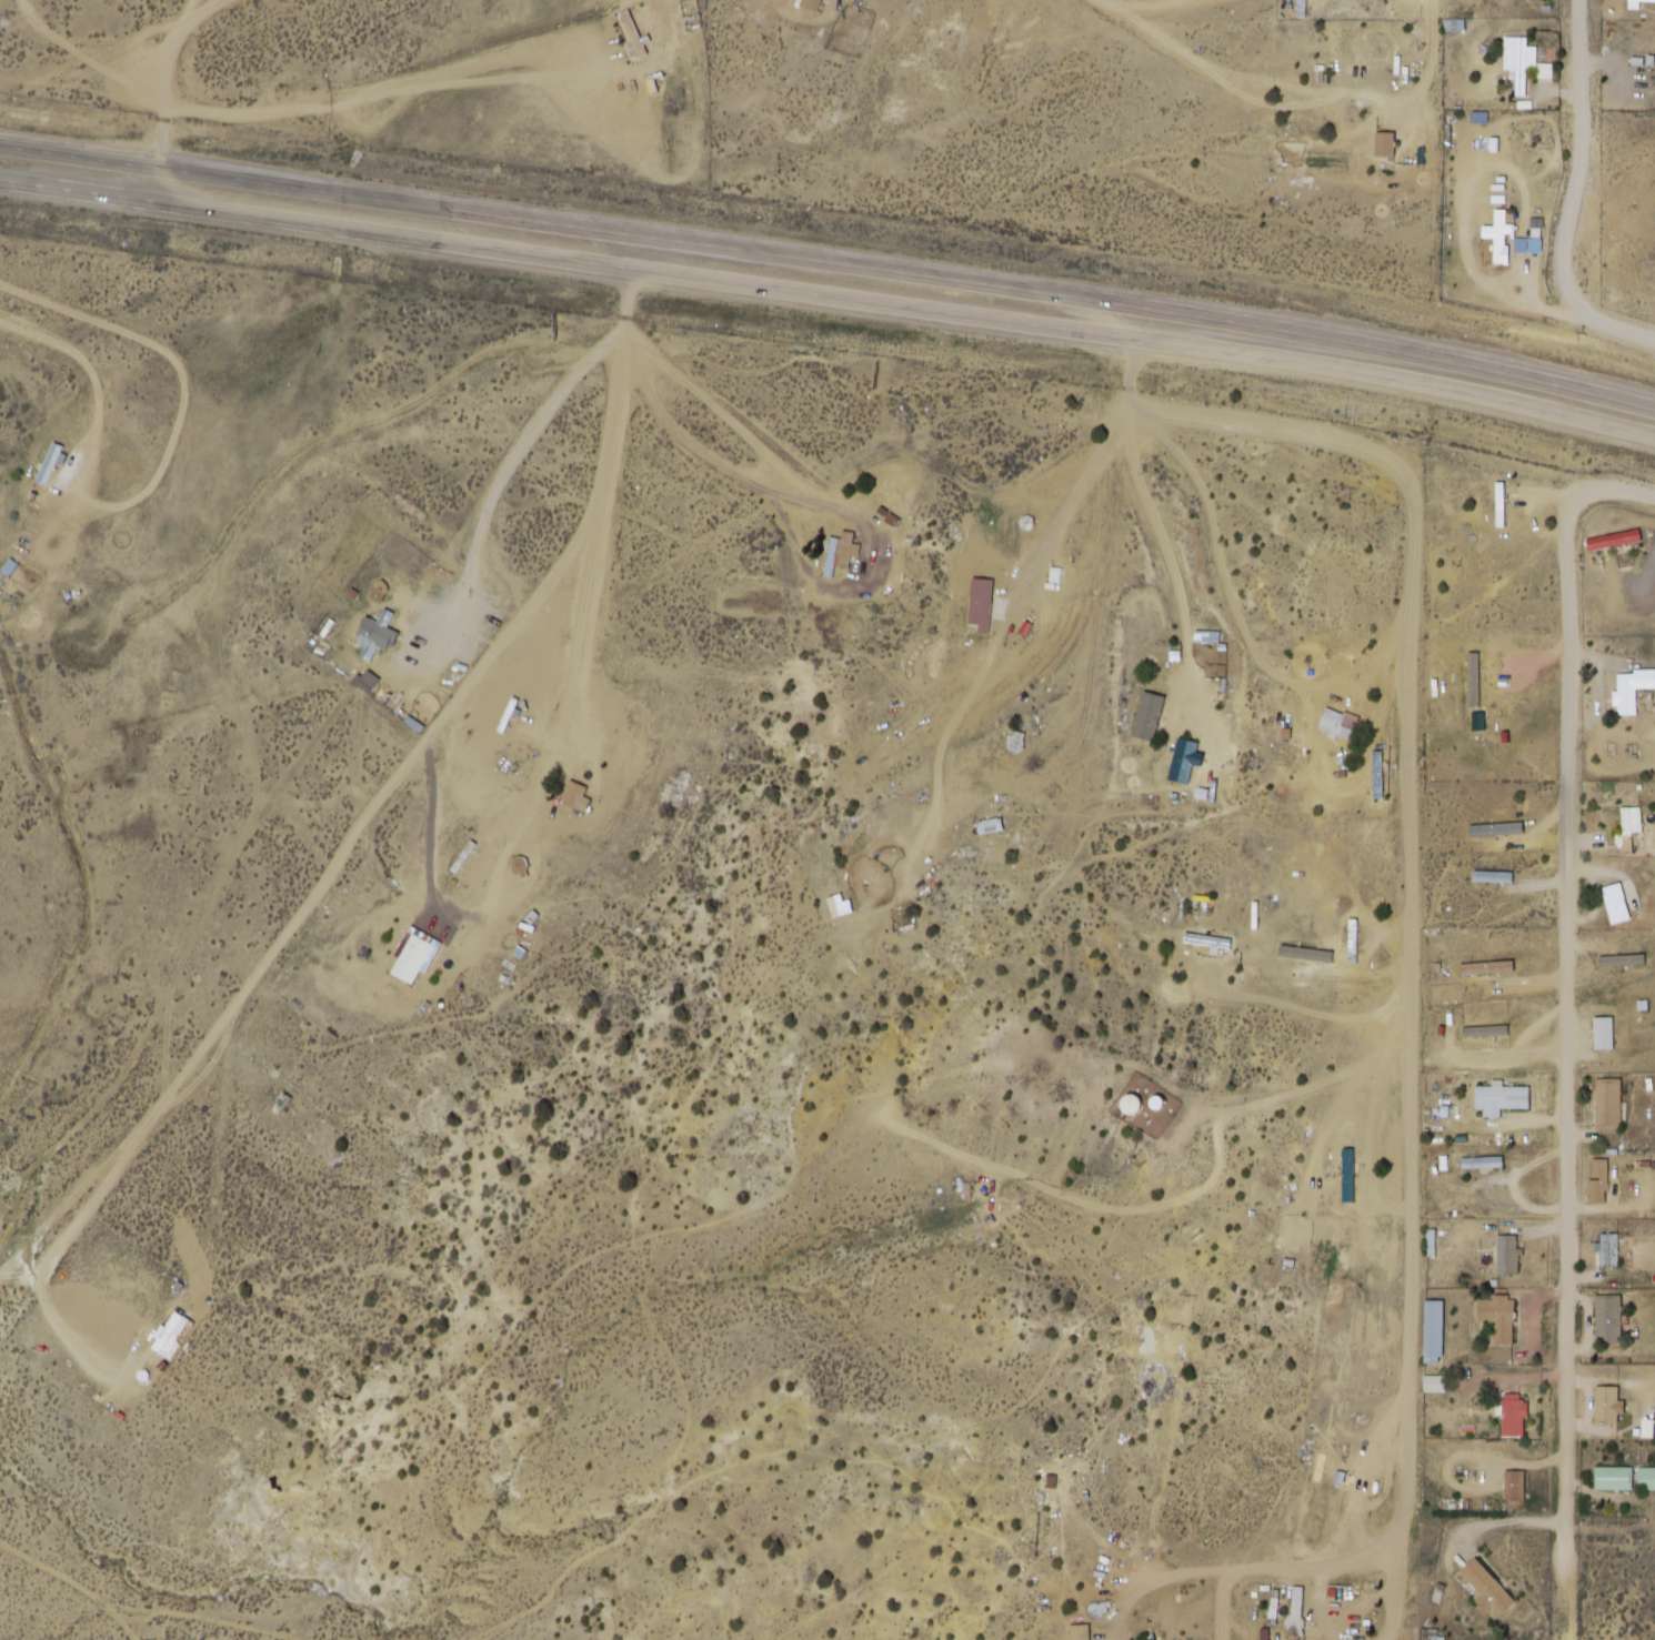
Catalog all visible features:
building: (1636, 2)
building: (812, 4)
building: (1518, 62)
road: (163, 68)
road: (1443, 94)
building: (1384, 143)
road: (1583, 193)
building: (1496, 240)
road: (830, 261)
road: (630, 280)
road: (829, 295)
building: (533, 335)
road: (738, 416)
building: (48, 465)
road: (1615, 492)
building: (1501, 505)
road: (801, 526)
road: (1155, 535)
building: (1614, 542)
building: (836, 557)
road: (569, 578)
road: (1083, 591)
building: (980, 605)
road: (1247, 624)
building: (369, 636)
building: (1631, 690)
road: (1210, 708)
building: (1337, 725)
road: (1080, 744)
building: (1183, 762)
building: (575, 797)
building: (1632, 821)
road: (1420, 848)
building: (1492, 877)
road: (408, 893)
building: (1615, 903)
building: (1113, 939)
building: (411, 958)
building: (1477, 968)
road: (208, 1062)
road: (1565, 1066)
building: (1501, 1099)
building: (1607, 1105)
road: (1258, 1108)
building: (1597, 1181)
road: (1106, 1209)
building: (1608, 1250)
building: (1506, 1256)
building: (1607, 1320)
building: (1494, 1330)
building: (1433, 1334)
building: (1153, 1385)
building: (1607, 1406)
building: (1513, 1416)
road: (1172, 1467)
building: (1613, 1479)
building: (1646, 1479)
building: (1514, 1487)
road: (1505, 1521)
road: (1106, 1543)
road: (1297, 1574)
road: (1168, 1583)
road: (1394, 1586)
building: (1484, 1588)
building: (1296, 1599)
building: (1082, 1631)
building: (1432, 1637)

